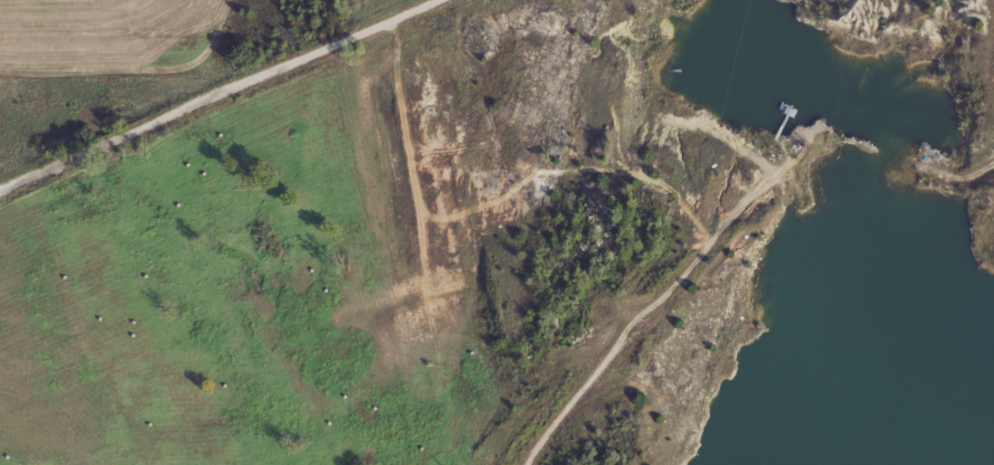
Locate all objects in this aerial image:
road: (220, 96)

